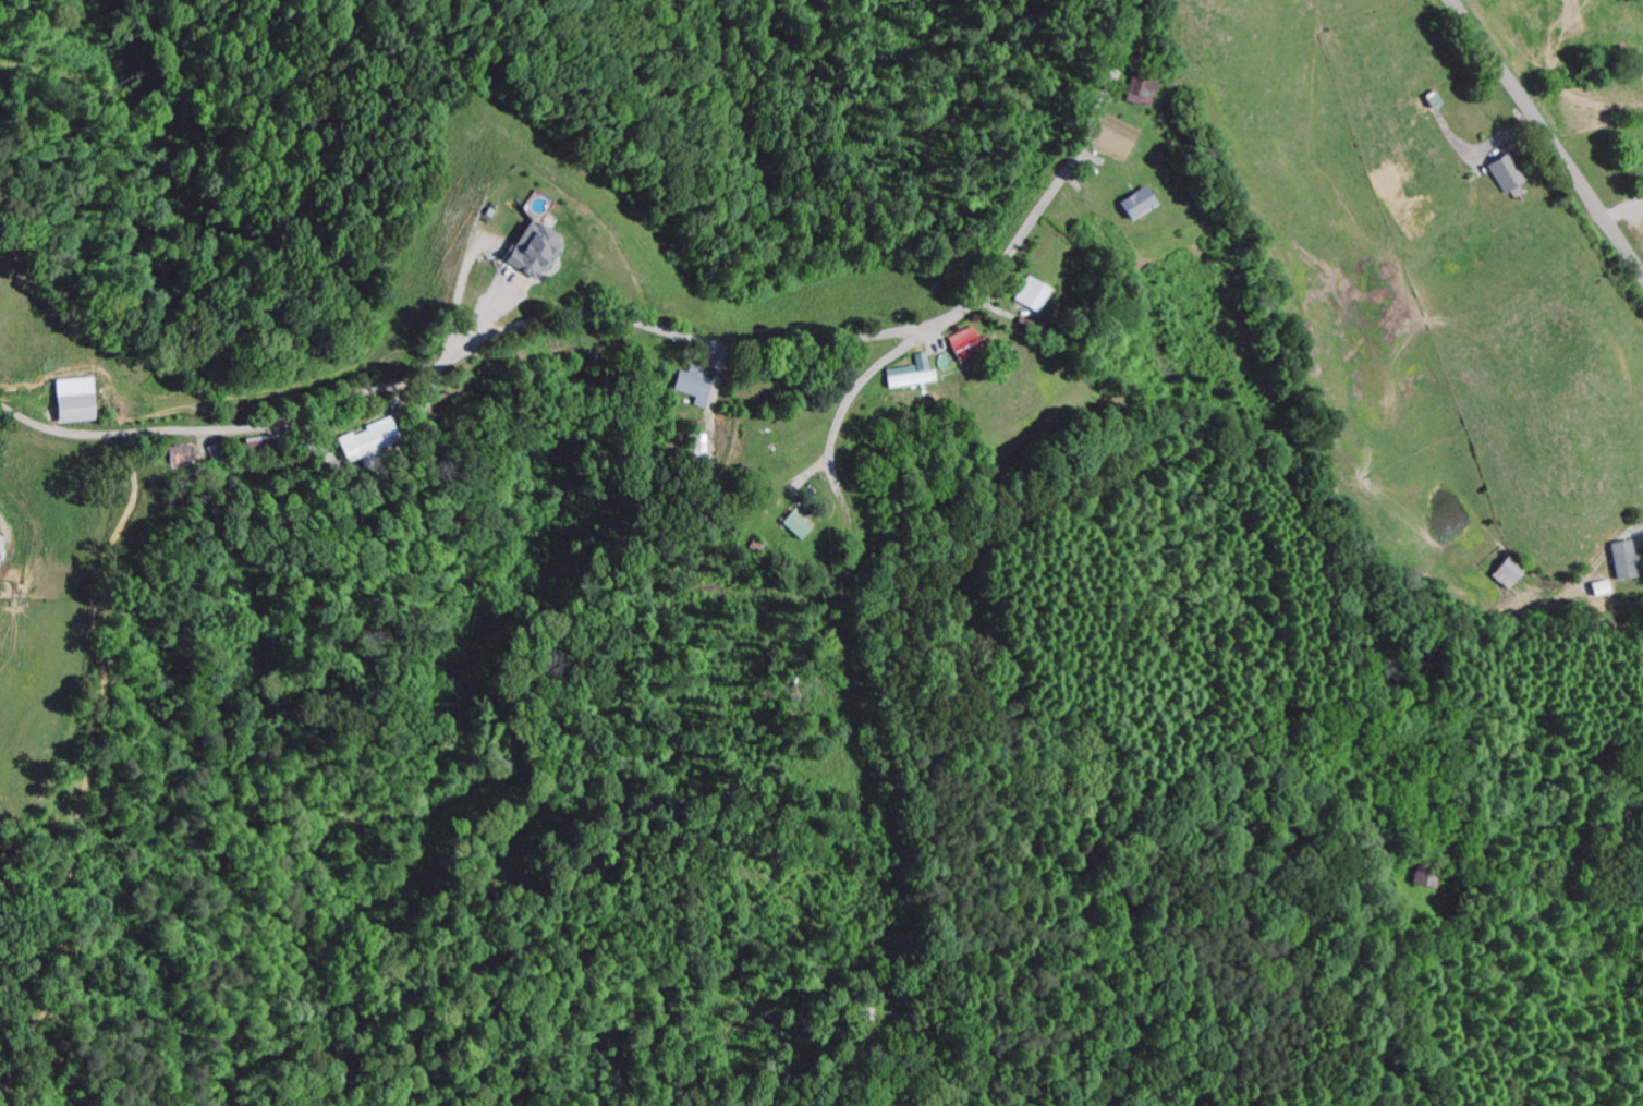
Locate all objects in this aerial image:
building: (1136, 93)
road: (1546, 136)
building: (1641, 154)
building: (1500, 175)
building: (1131, 206)
building: (527, 253)
road: (645, 296)
building: (1026, 297)
building: (957, 347)
building: (906, 376)
building: (687, 387)
building: (68, 402)
building: (356, 441)
building: (695, 448)
building: (791, 527)
building: (1619, 562)
building: (1506, 572)
road: (879, 702)

